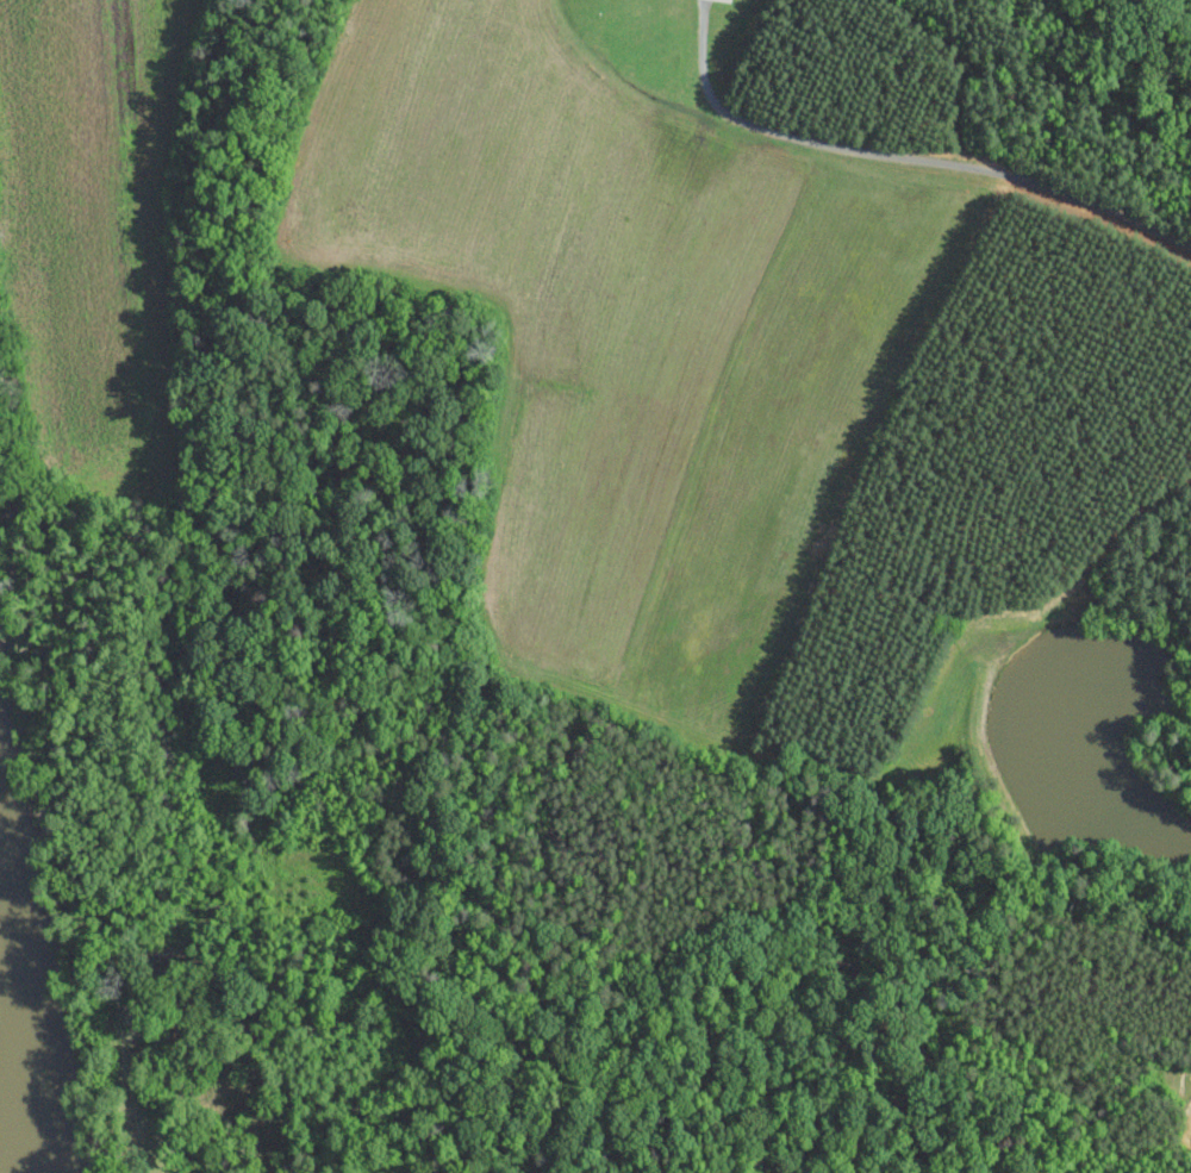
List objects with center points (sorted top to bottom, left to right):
road: (904, 156)
river: (21, 1063)

